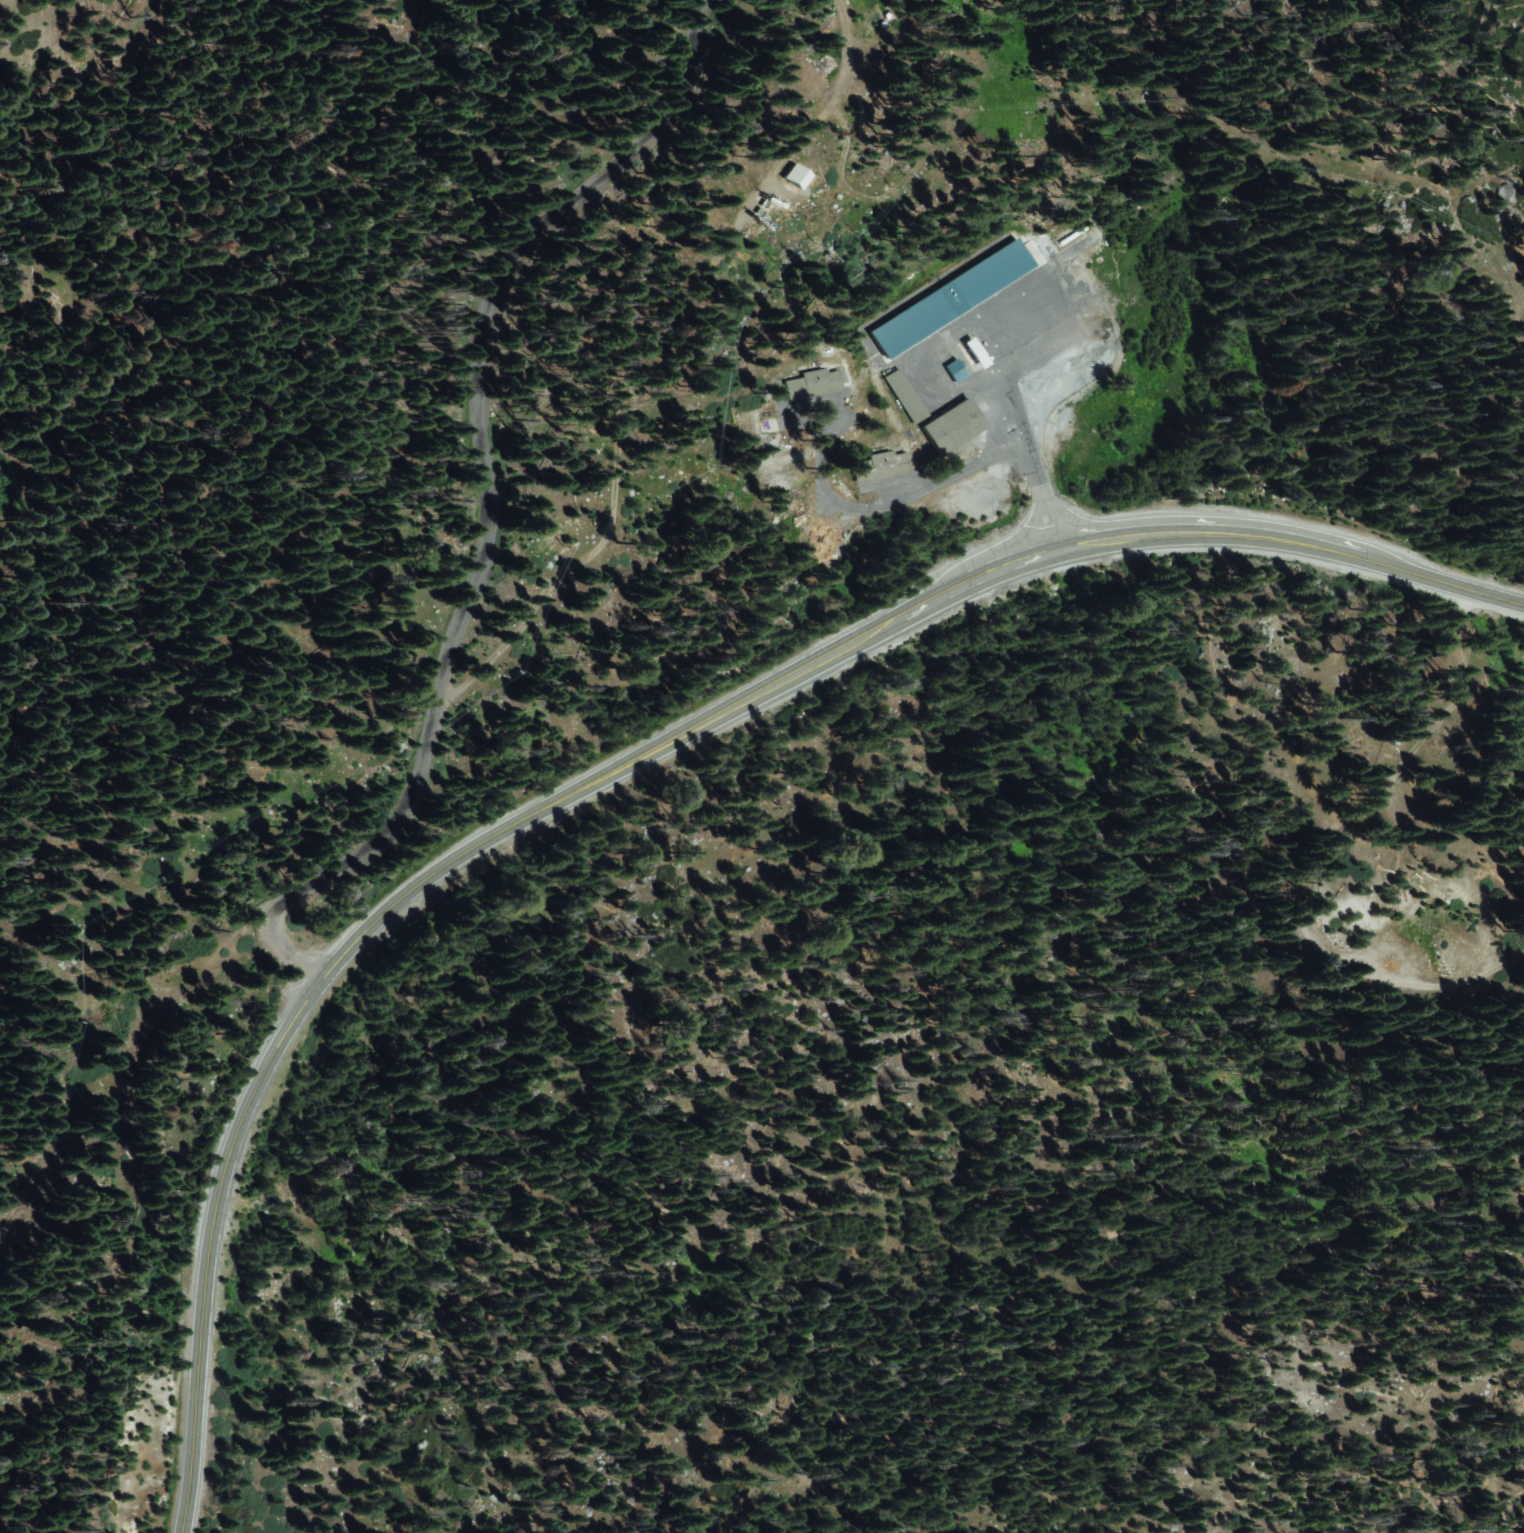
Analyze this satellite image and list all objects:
storage tank: (890, 15)
storage tank: (885, 24)
building: (794, 176)
building: (1074, 233)
building: (949, 298)
building: (975, 354)
building: (954, 369)
building: (810, 383)
building: (903, 395)
building: (951, 425)
road: (1032, 442)
building: (882, 464)
road: (485, 495)
road: (627, 766)
road: (1323, 854)

